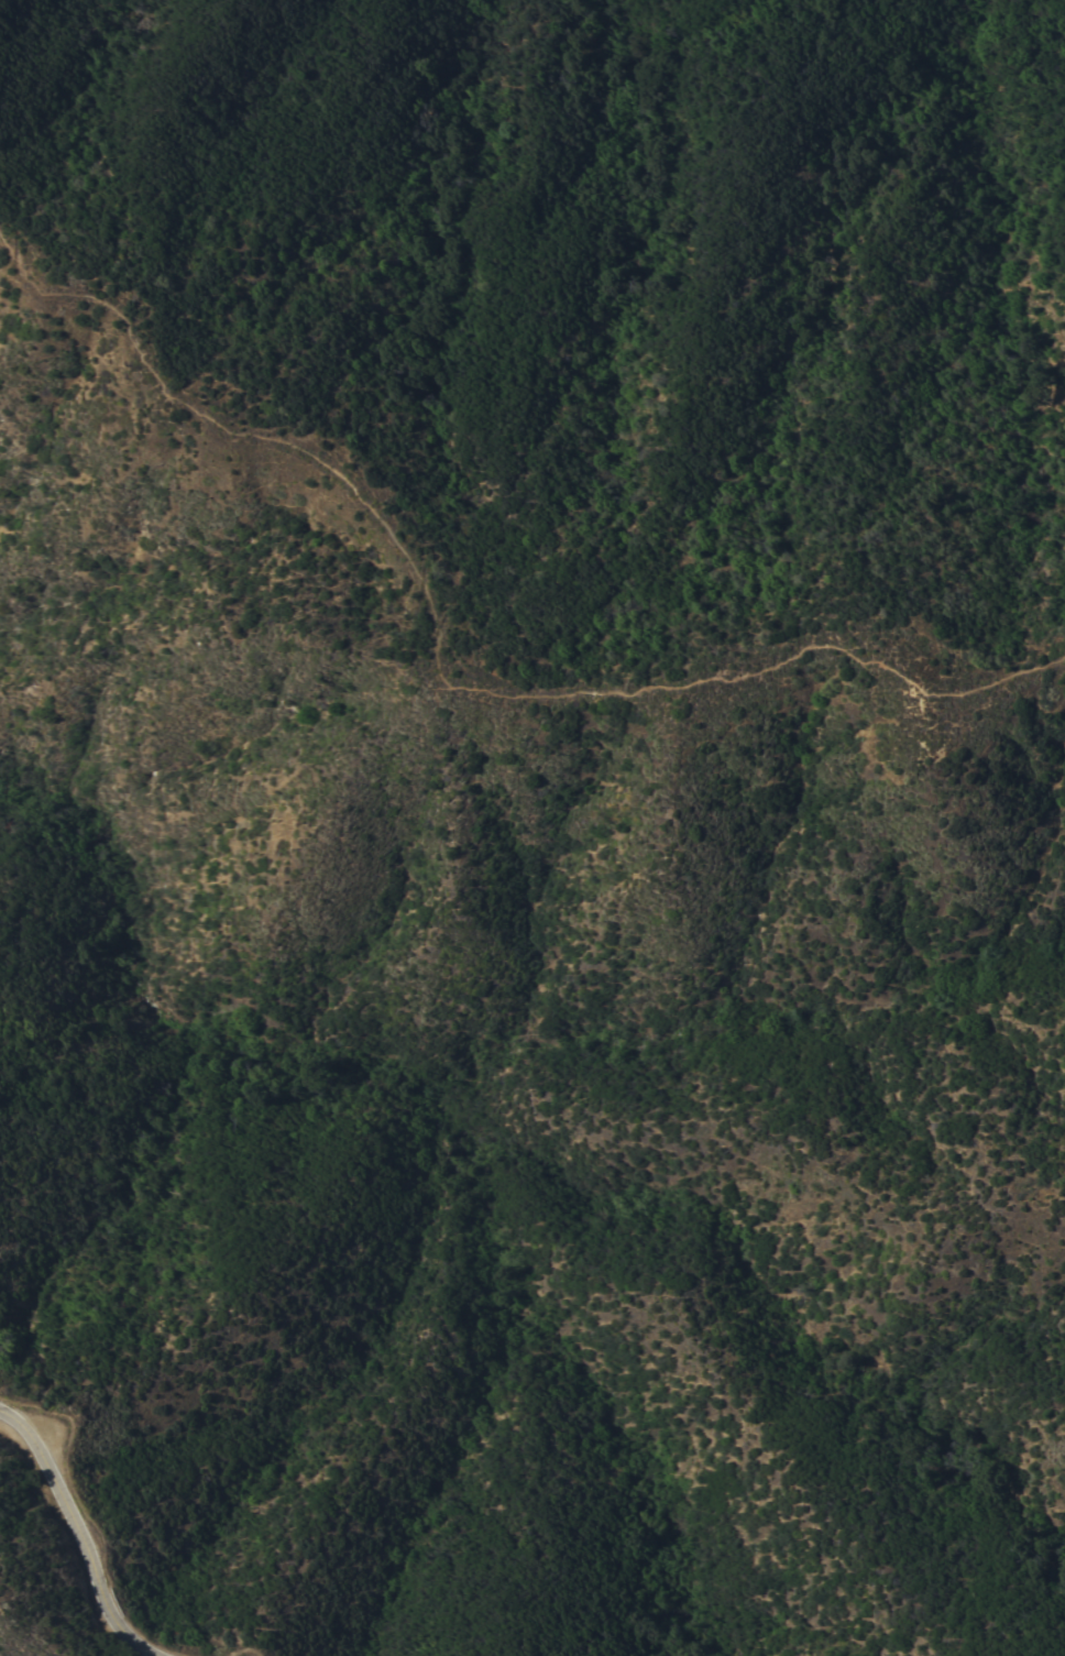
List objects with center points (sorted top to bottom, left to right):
road: (79, 1533)

